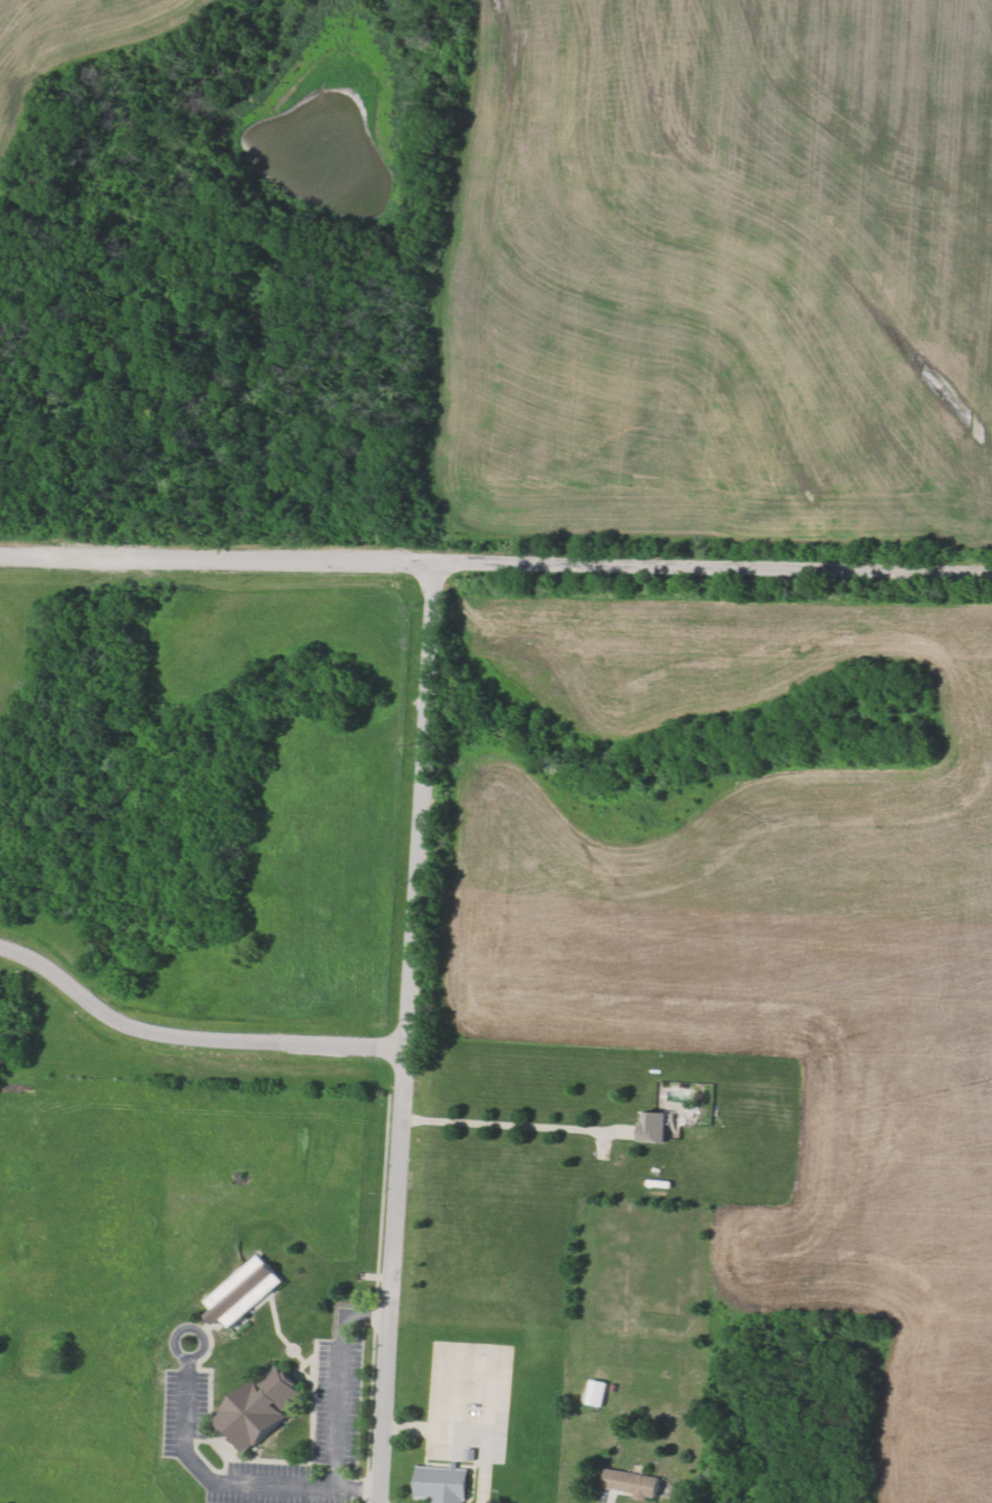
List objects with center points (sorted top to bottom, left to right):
crop: (71, 44)
crop: (723, 287)
road: (496, 563)
crop: (767, 951)
road: (402, 1032)
road: (187, 1037)
road: (519, 1125)
building: (655, 1126)
road: (603, 1143)
building: (247, 1293)
road: (366, 1313)
road: (195, 1328)
road: (454, 1389)
building: (596, 1392)
road: (338, 1400)
road: (491, 1404)
road: (186, 1408)
building: (262, 1410)
road: (437, 1430)
building: (471, 1453)
road: (201, 1466)
road: (487, 1481)
building: (630, 1481)
building: (443, 1483)
road: (299, 1487)

